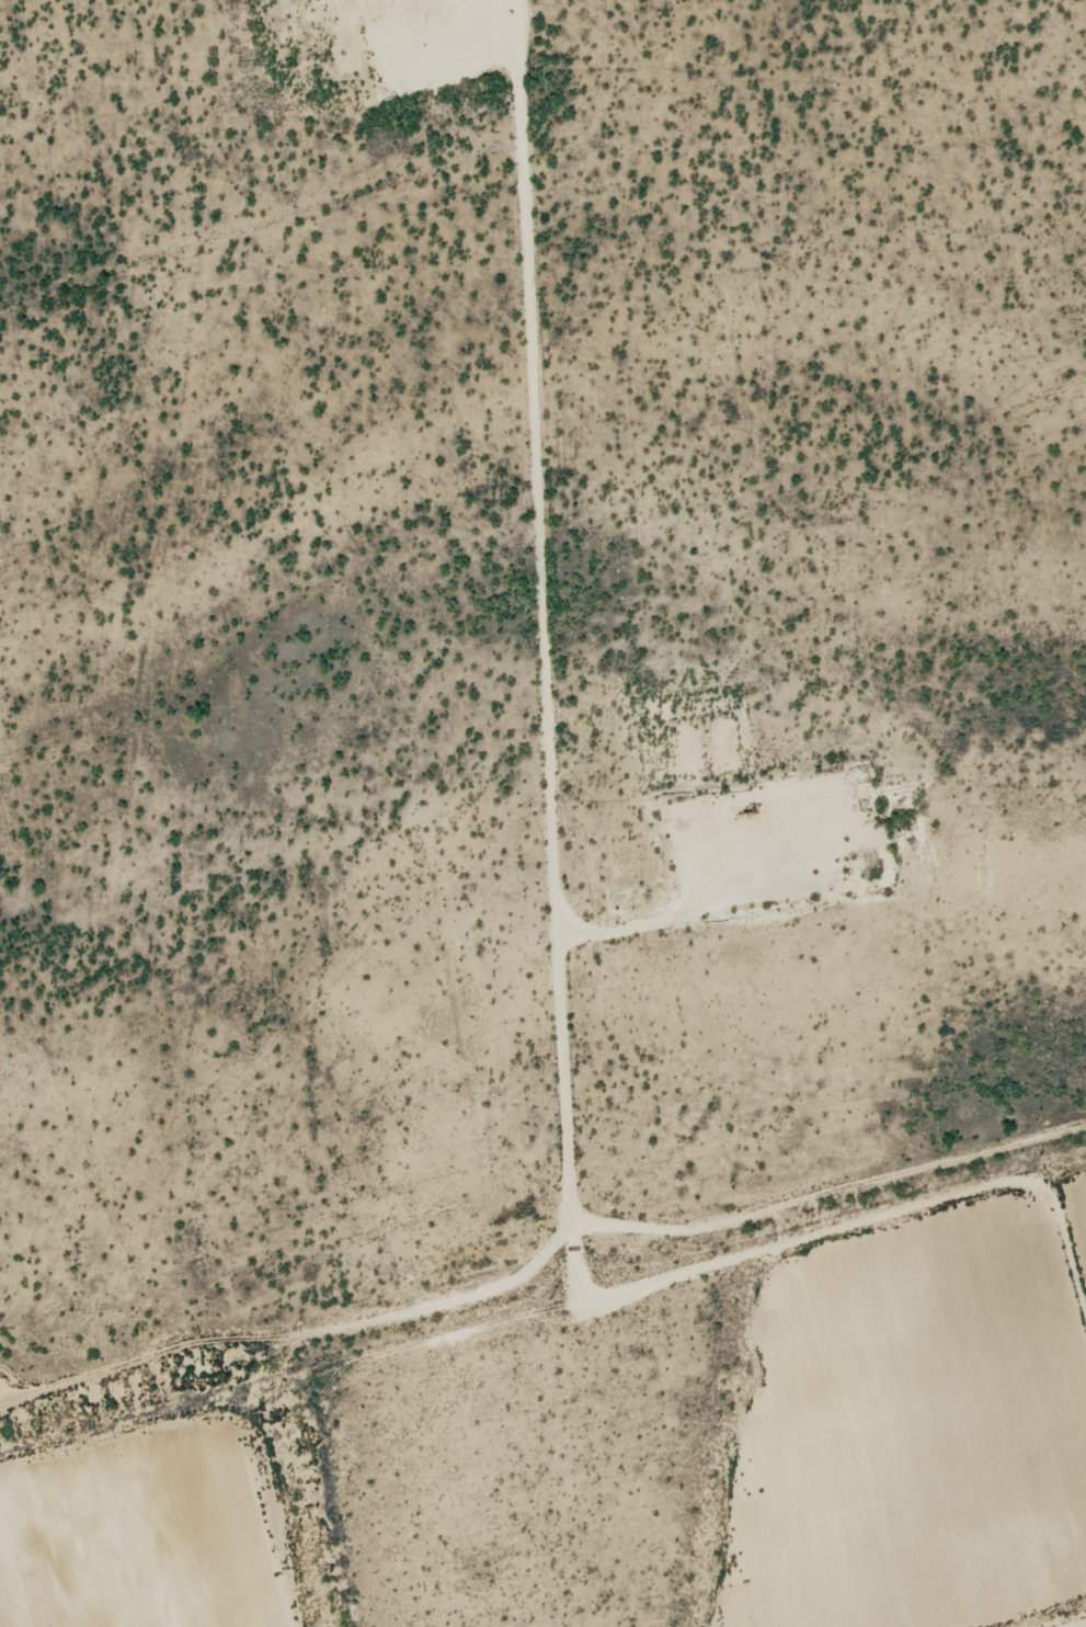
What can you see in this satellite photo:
river: (513, 683)

